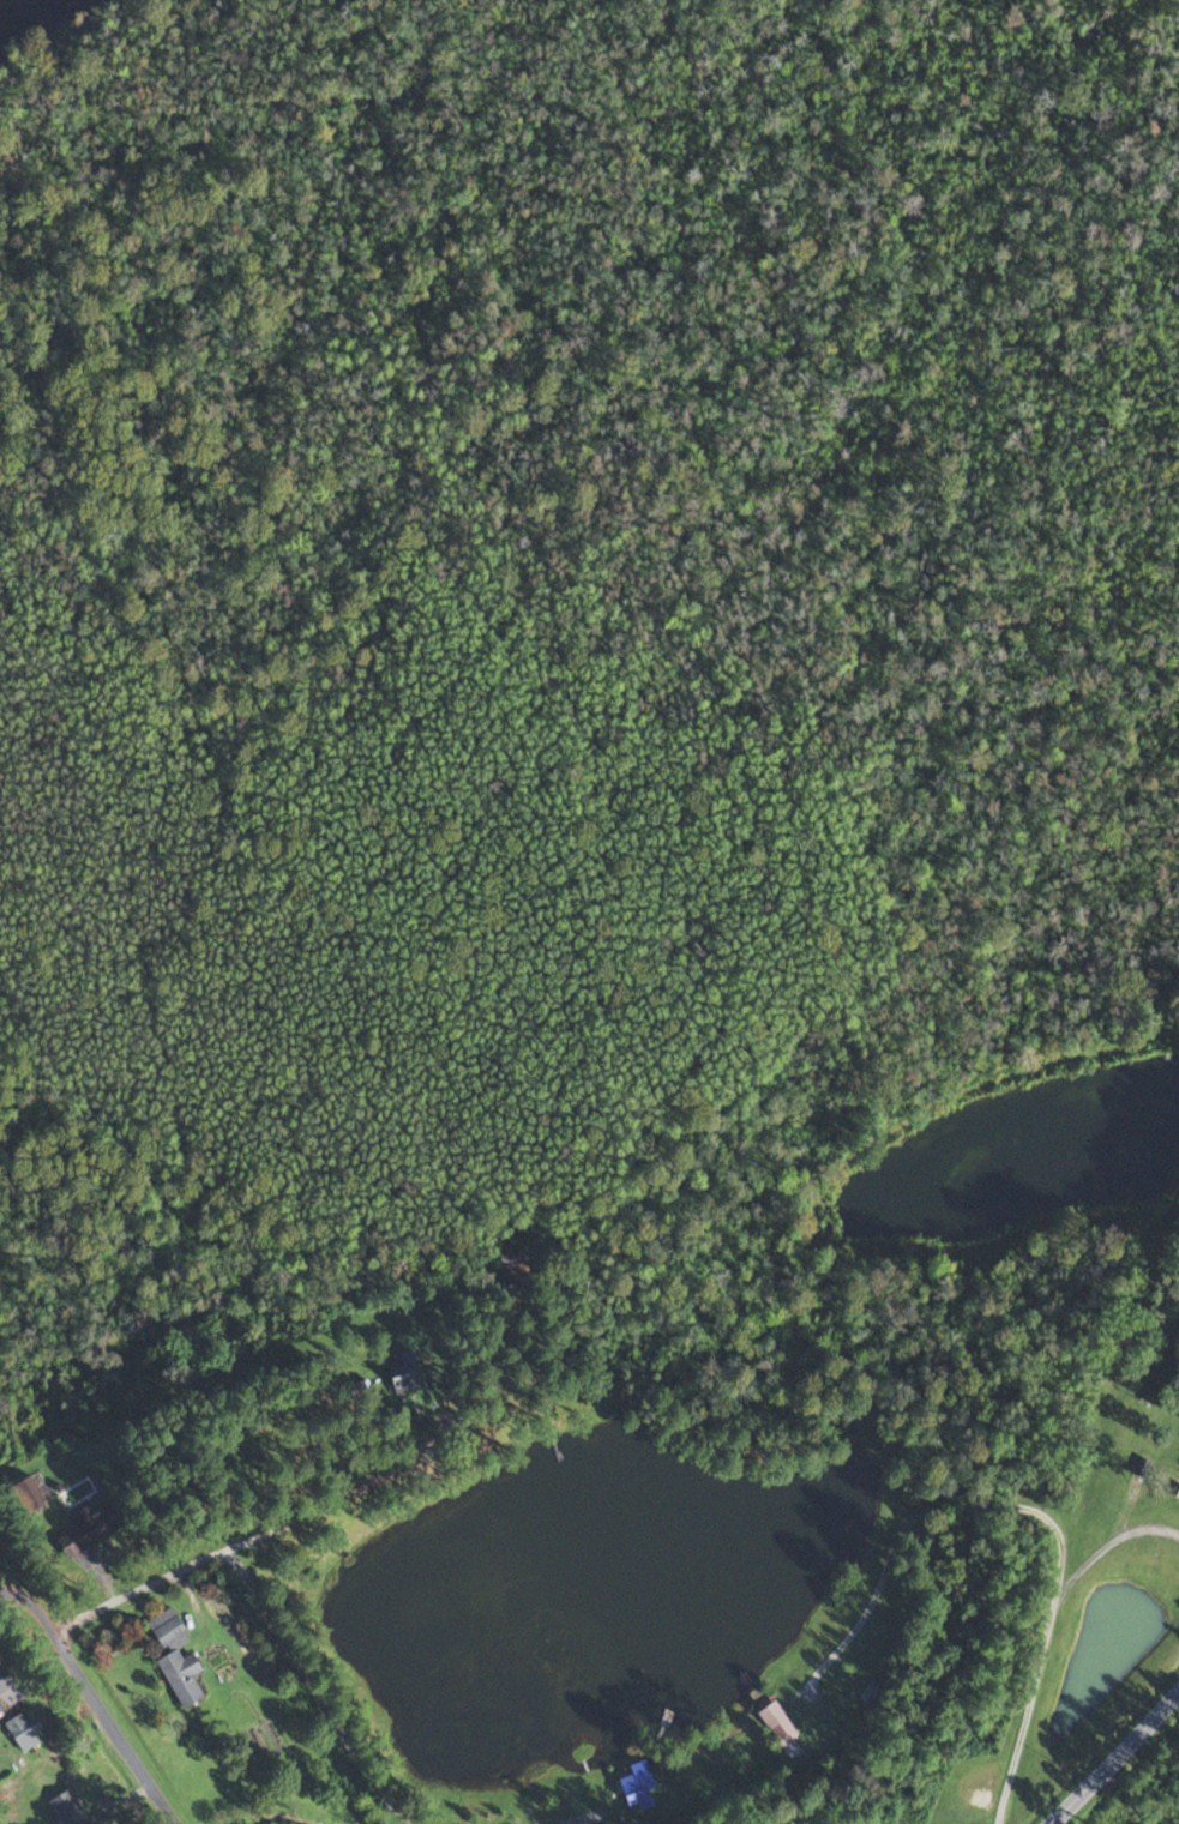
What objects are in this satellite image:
building: (512, 1259)
building: (408, 1375)
building: (37, 1489)
road: (1030, 1510)
building: (95, 1527)
road: (1105, 1545)
road: (237, 1548)
building: (176, 1657)
building: (5, 1680)
road: (313, 1693)
road: (92, 1702)
building: (1, 1706)
building: (780, 1723)
building: (23, 1728)
road: (1113, 1754)
building: (639, 1792)
building: (68, 1810)
road: (579, 1819)

